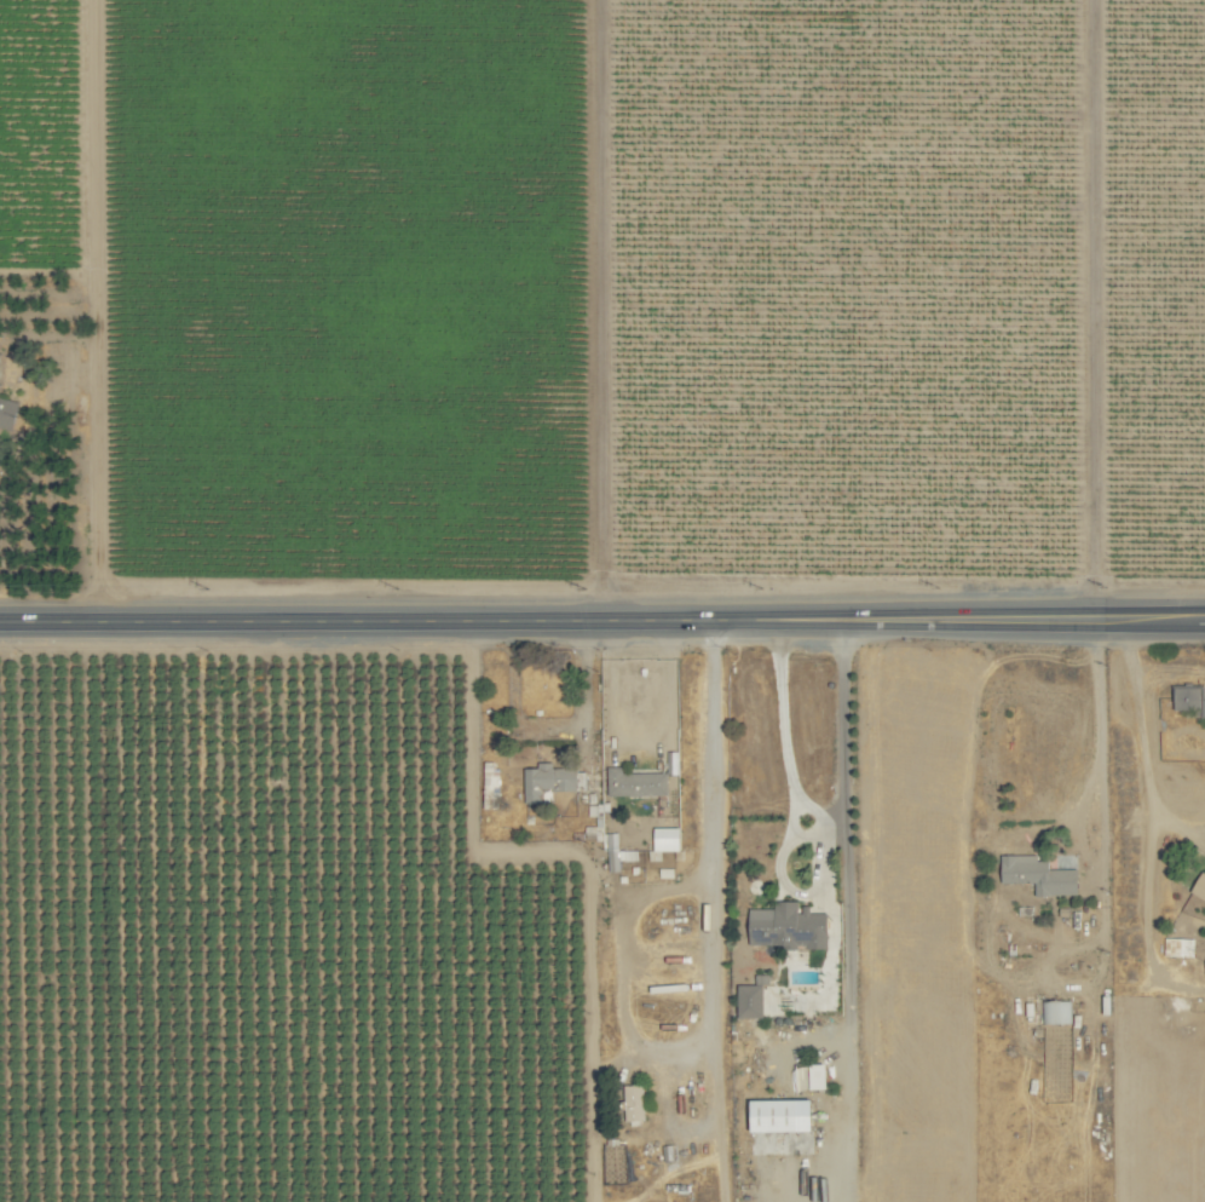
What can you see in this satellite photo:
building: (7, 412)
crop: (602, 600)
road: (386, 617)
road: (803, 617)
road: (1020, 617)
building: (1188, 698)
road: (1096, 753)
building: (490, 778)
building: (548, 780)
building: (635, 782)
building: (665, 838)
building: (1038, 874)
building: (1199, 886)
crop: (753, 890)
road: (796, 892)
building: (788, 925)
building: (1178, 945)
road: (703, 989)
building: (750, 1000)
building: (1054, 1011)
building: (811, 1076)
building: (633, 1102)
building: (780, 1115)

